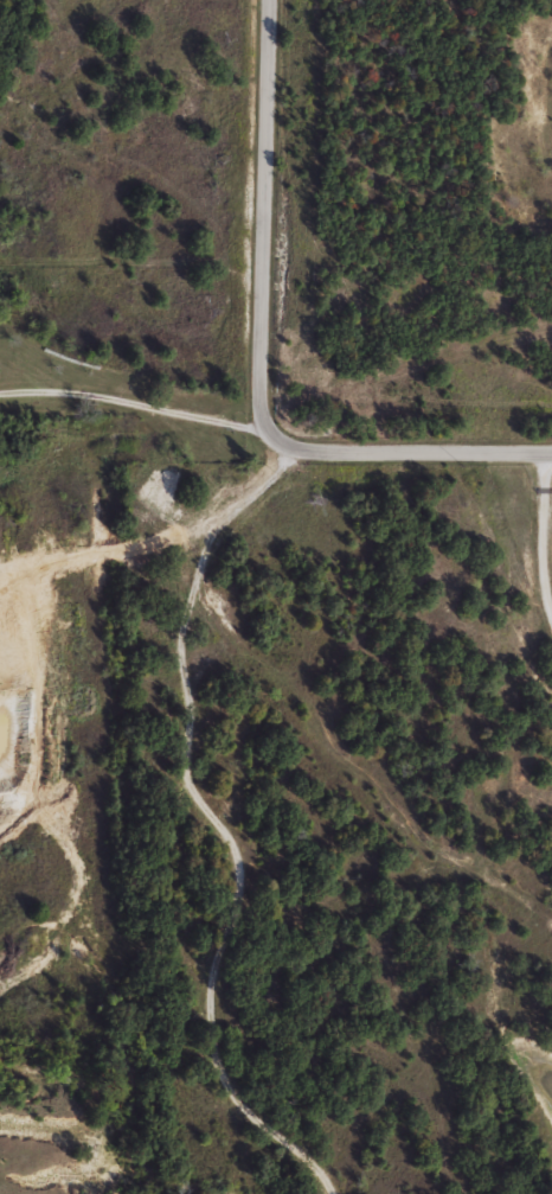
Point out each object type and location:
road: (261, 231)
road: (131, 402)
road: (422, 453)
road: (538, 543)
road: (227, 824)

